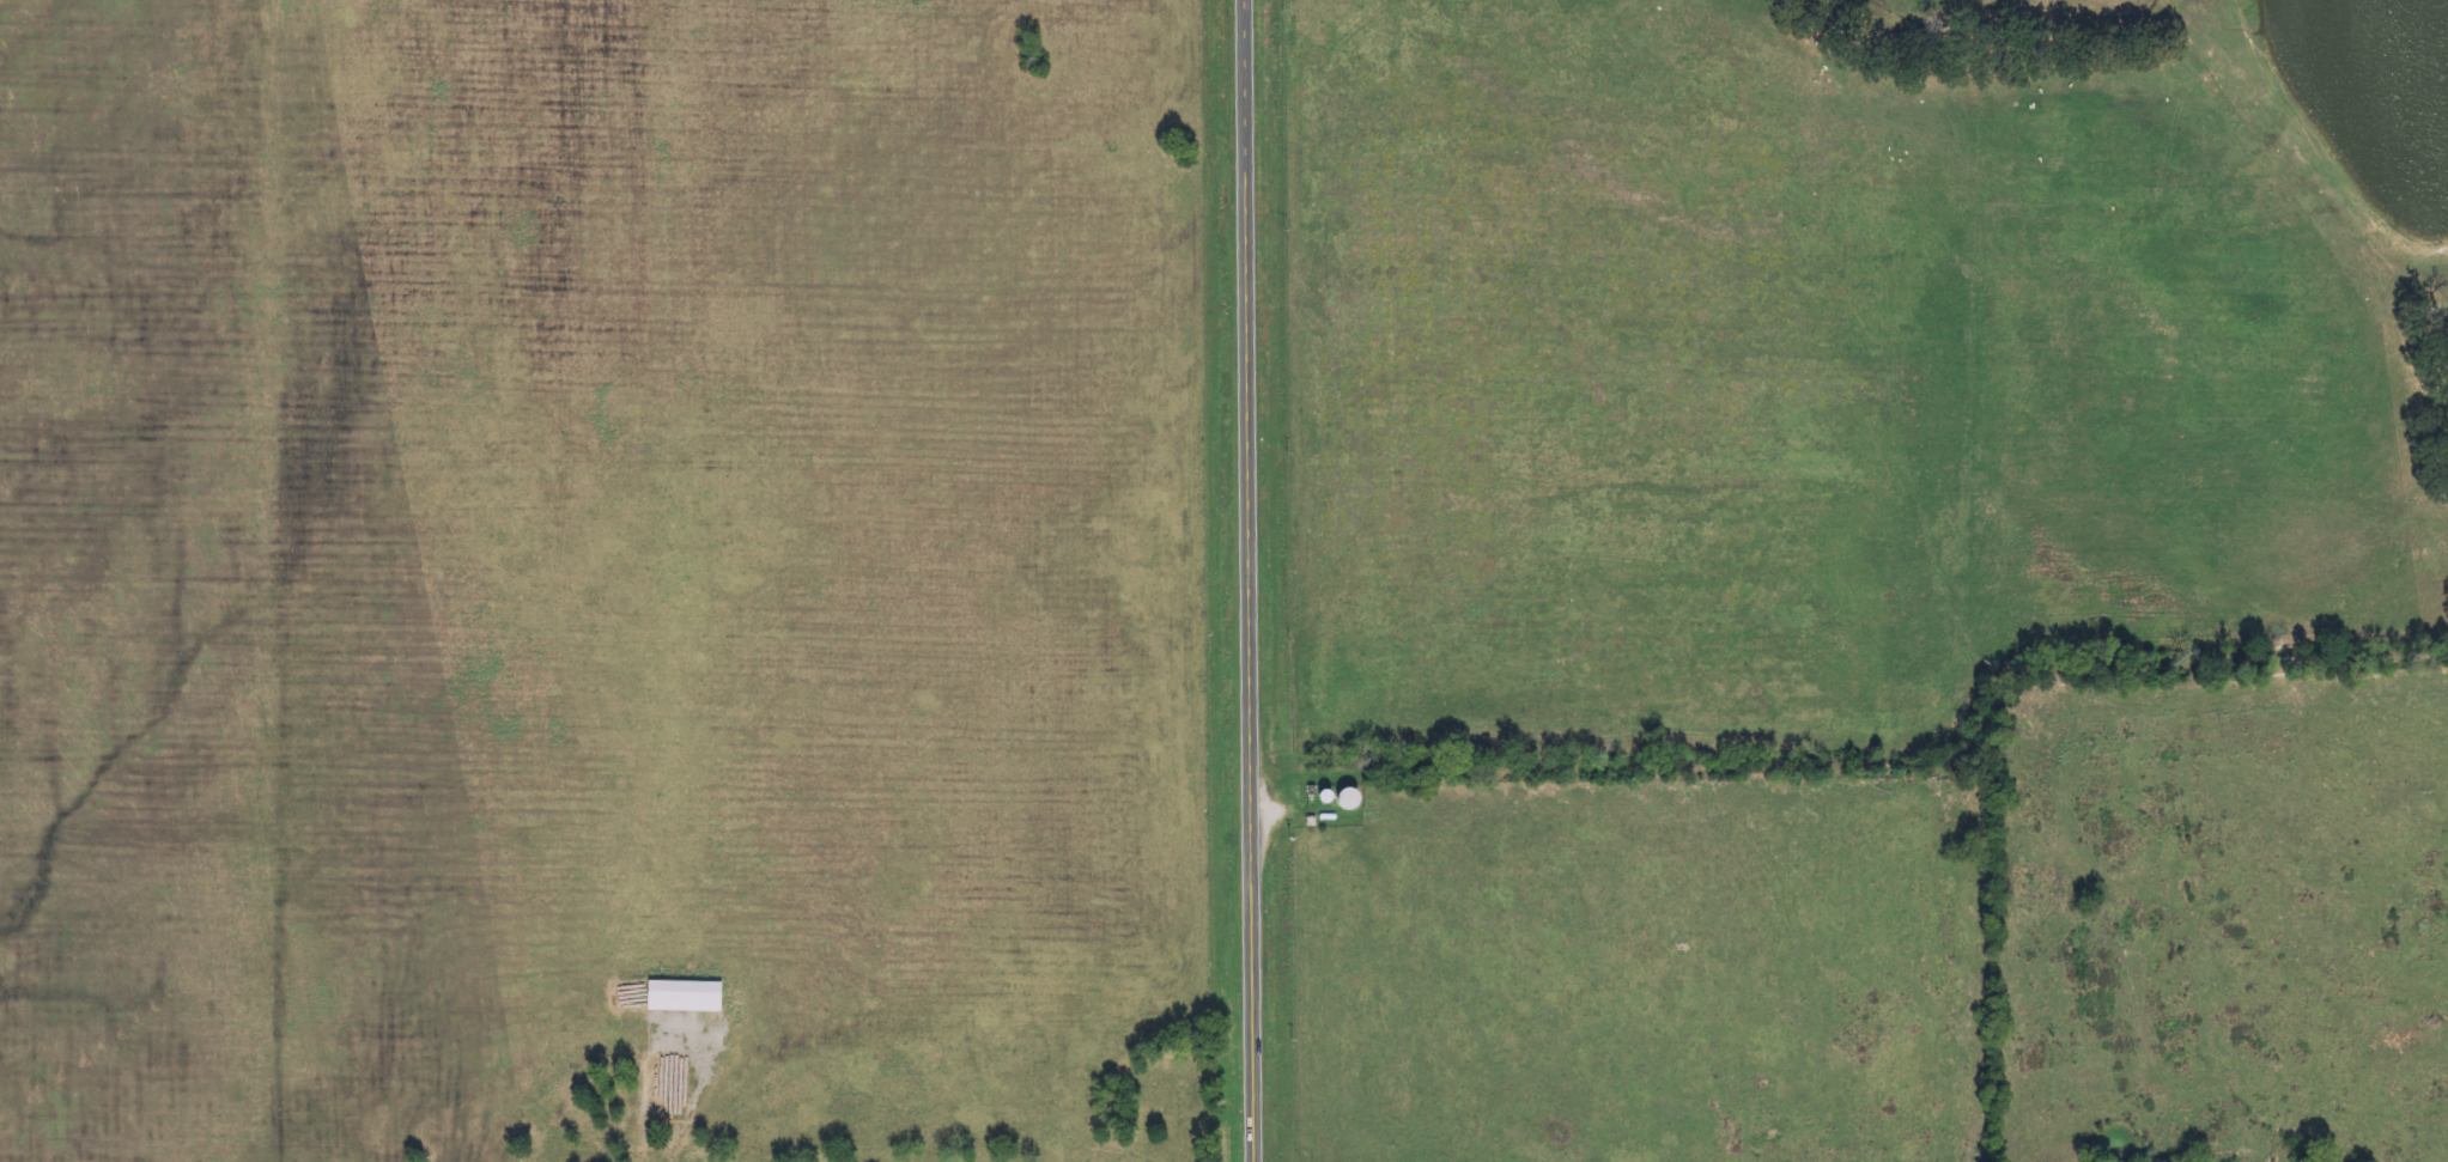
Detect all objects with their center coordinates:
road: (1249, 580)
building: (687, 996)

